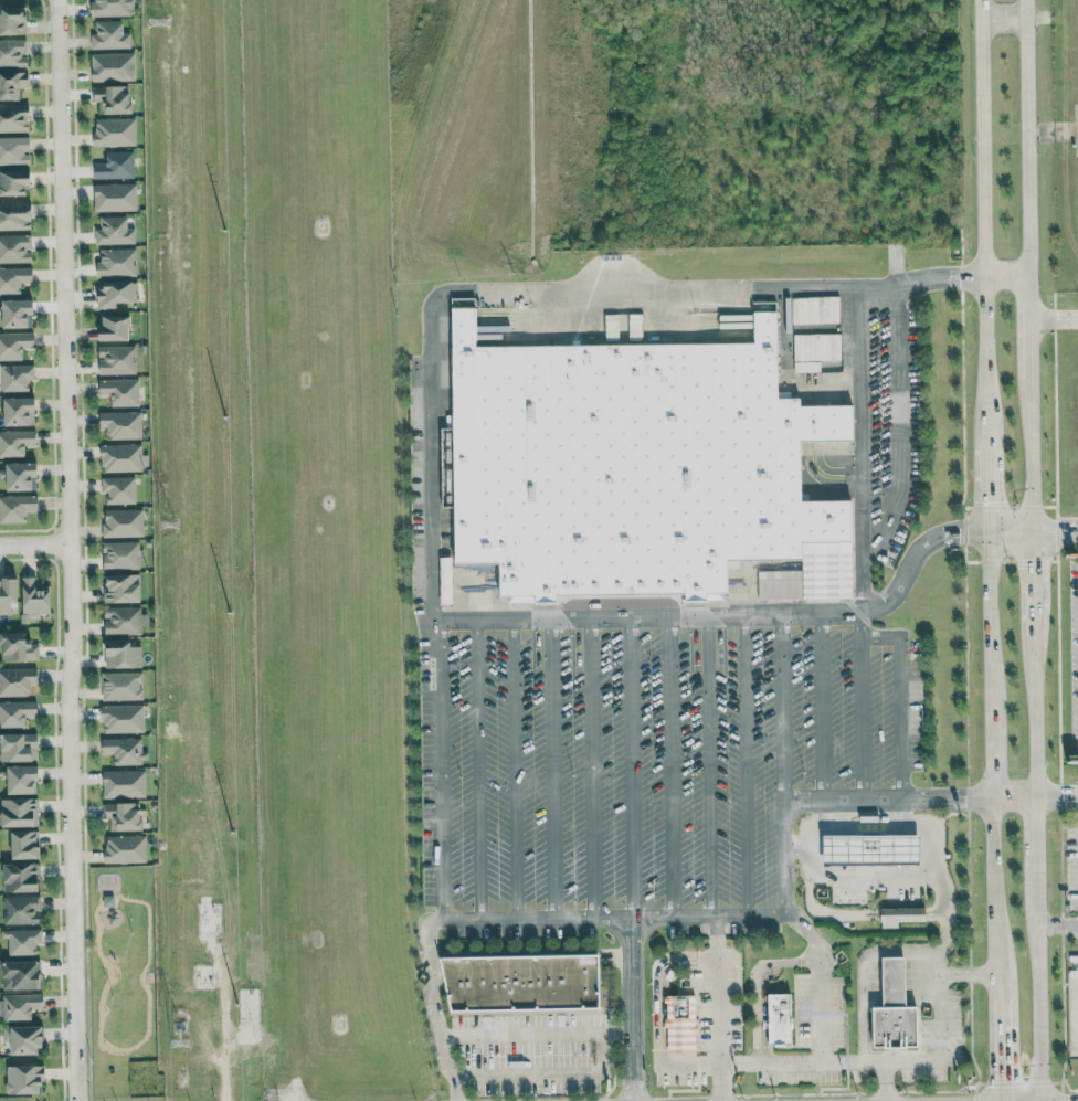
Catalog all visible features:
power tower: (156, 0)
building: (112, 8)
road: (1000, 15)
building: (13, 20)
building: (109, 35)
building: (13, 52)
building: (113, 66)
building: (12, 83)
building: (113, 98)
building: (13, 118)
building: (114, 131)
road: (1019, 137)
building: (14, 150)
building: (115, 166)
building: (14, 183)
building: (115, 197)
building: (15, 215)
building: (114, 231)
building: (15, 248)
building: (116, 262)
road: (982, 265)
road: (1003, 274)
building: (13, 278)
road: (501, 292)
building: (115, 293)
building: (17, 314)
road: (1023, 314)
road: (1050, 317)
building: (114, 328)
building: (14, 345)
building: (116, 360)
building: (15, 378)
building: (120, 391)
road: (860, 400)
building: (19, 411)
building: (120, 424)
road: (903, 427)
building: (15, 442)
road: (1025, 442)
building: (120, 457)
building: (621, 462)
building: (21, 476)
building: (118, 489)
building: (17, 507)
power tower: (166, 518)
building: (123, 522)
road: (1051, 527)
road: (1007, 530)
road: (32, 543)
road: (65, 550)
building: (120, 555)
road: (1028, 574)
road: (905, 575)
building: (444, 580)
building: (121, 587)
building: (8, 594)
building: (34, 597)
road: (989, 615)
road: (627, 618)
building: (18, 647)
building: (121, 654)
parking lot: (1055, 659)
building: (17, 681)
building: (121, 686)
road: (898, 700)
road: (859, 708)
road: (1031, 708)
road: (822, 709)
building: (17, 713)
building: (121, 718)
road: (780, 729)
building: (18, 747)
building: (124, 750)
road: (992, 750)
parking lot: (643, 756)
road: (742, 765)
road: (705, 766)
road: (669, 767)
road: (440, 769)
road: (590, 769)
road: (628, 769)
road: (476, 770)
road: (515, 770)
road: (551, 770)
building: (20, 779)
building: (124, 783)
road: (1055, 794)
road: (1013, 797)
road: (886, 801)
building: (19, 813)
building: (123, 816)
road: (926, 828)
road: (812, 837)
building: (25, 845)
road: (1034, 848)
building: (125, 849)
building: (873, 850)
road: (776, 857)
road: (899, 875)
building: (22, 878)
road: (994, 900)
building: (22, 910)
building: (901, 915)
road: (610, 919)
road: (1056, 925)
road: (804, 929)
road: (718, 935)
building: (22, 941)
road: (922, 951)
road: (665, 965)
road: (427, 971)
road: (968, 974)
building: (22, 975)
building: (525, 983)
road: (760, 986)
road: (1036, 999)
building: (21, 1006)
road: (631, 1009)
building: (897, 1009)
building: (781, 1019)
building: (680, 1023)
road: (500, 1031)
building: (23, 1039)
road: (997, 1051)
road: (740, 1063)
road: (547, 1074)
building: (24, 1080)
road: (885, 1080)
road: (721, 1082)

